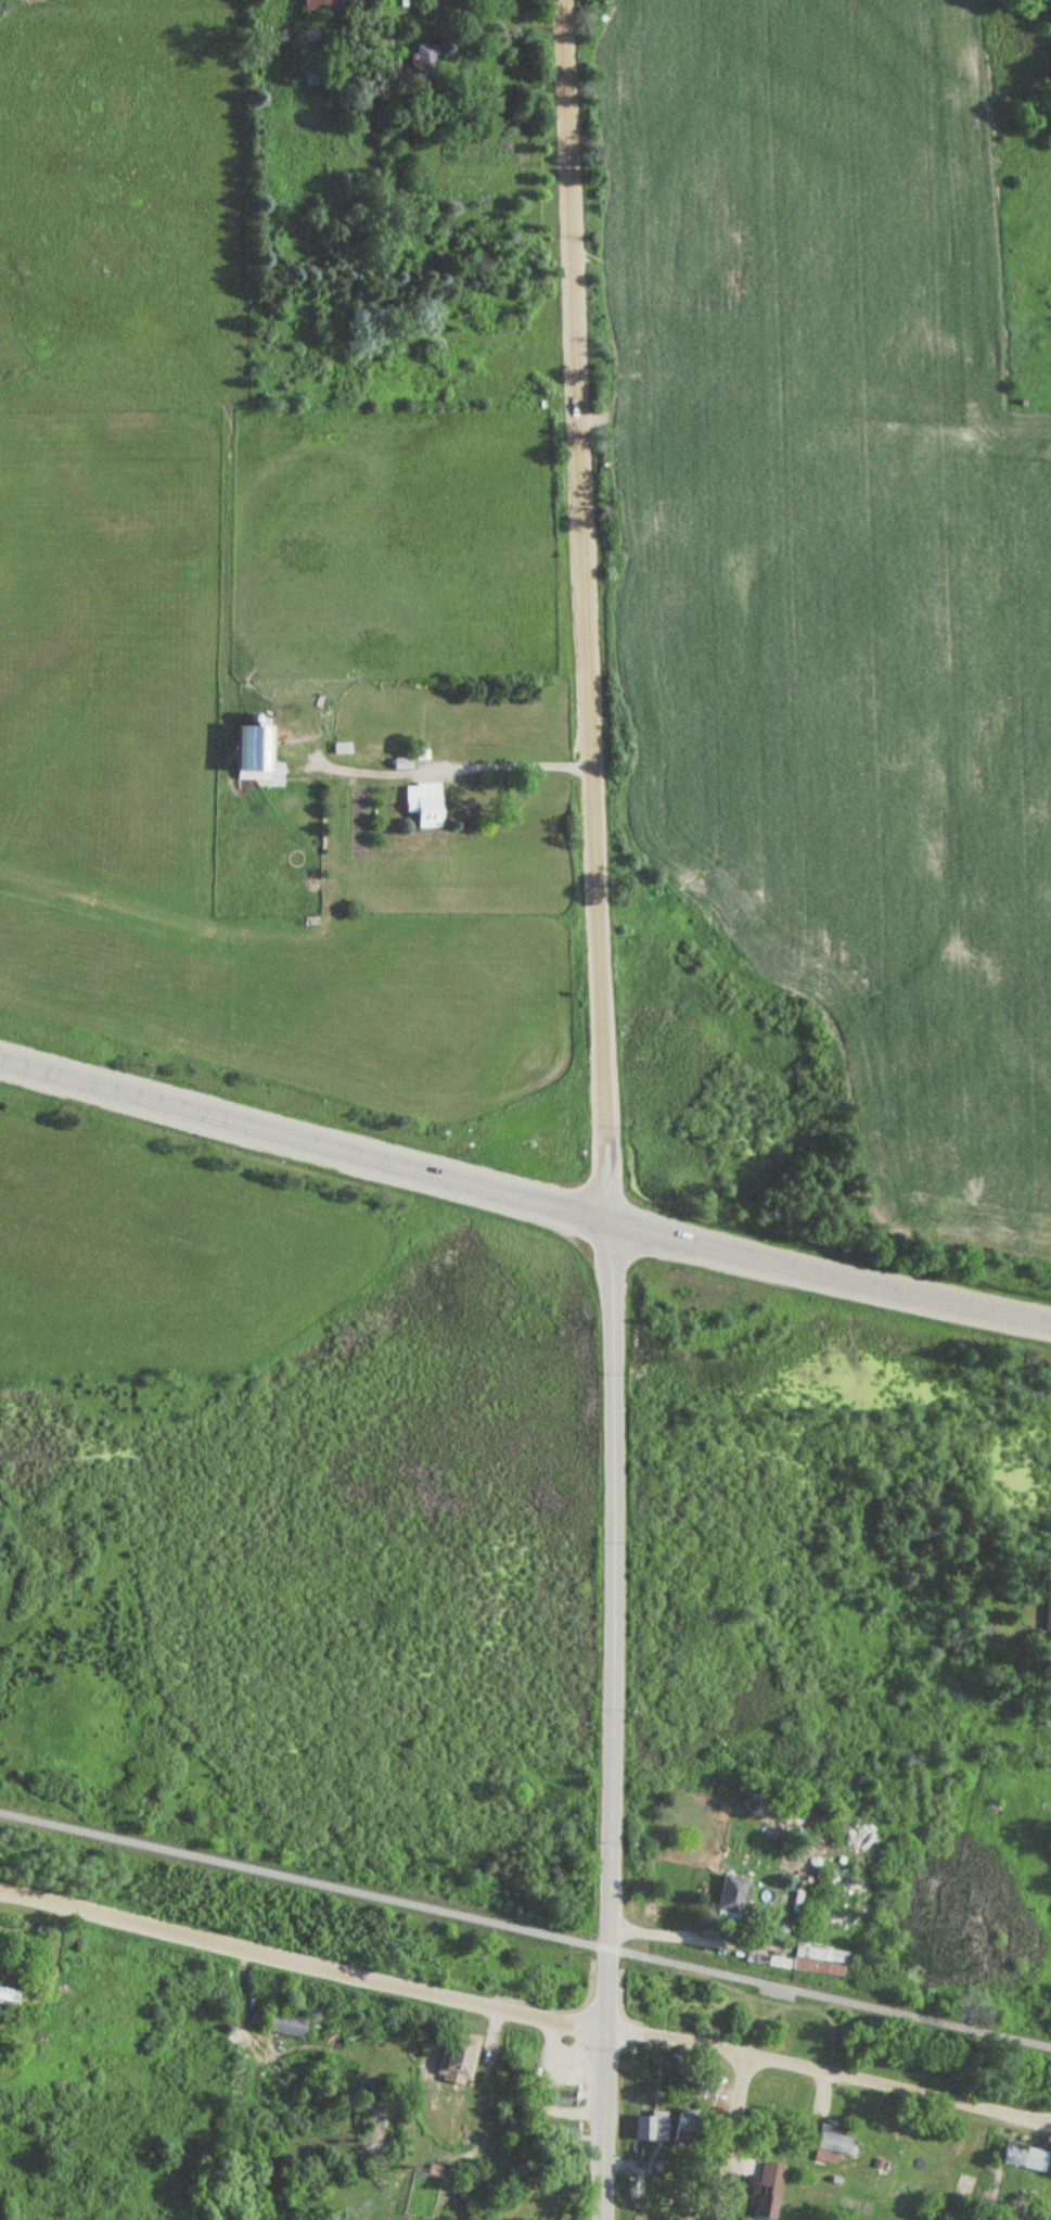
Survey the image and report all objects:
building: (324, 4)
building: (422, 60)
building: (379, 315)
road: (588, 612)
building: (255, 757)
building: (423, 803)
road: (306, 1143)
road: (831, 1273)
building: (1047, 1613)
road: (610, 1723)
building: (730, 1898)
road: (525, 1931)
road: (303, 1965)
building: (1, 1992)
building: (285, 2025)
building: (456, 2055)
road: (828, 2076)
building: (705, 2089)
building: (562, 2097)
building: (650, 2127)
building: (683, 2128)
building: (562, 2139)
road: (735, 2140)
building: (830, 2144)
building: (1022, 2158)
building: (768, 2191)

